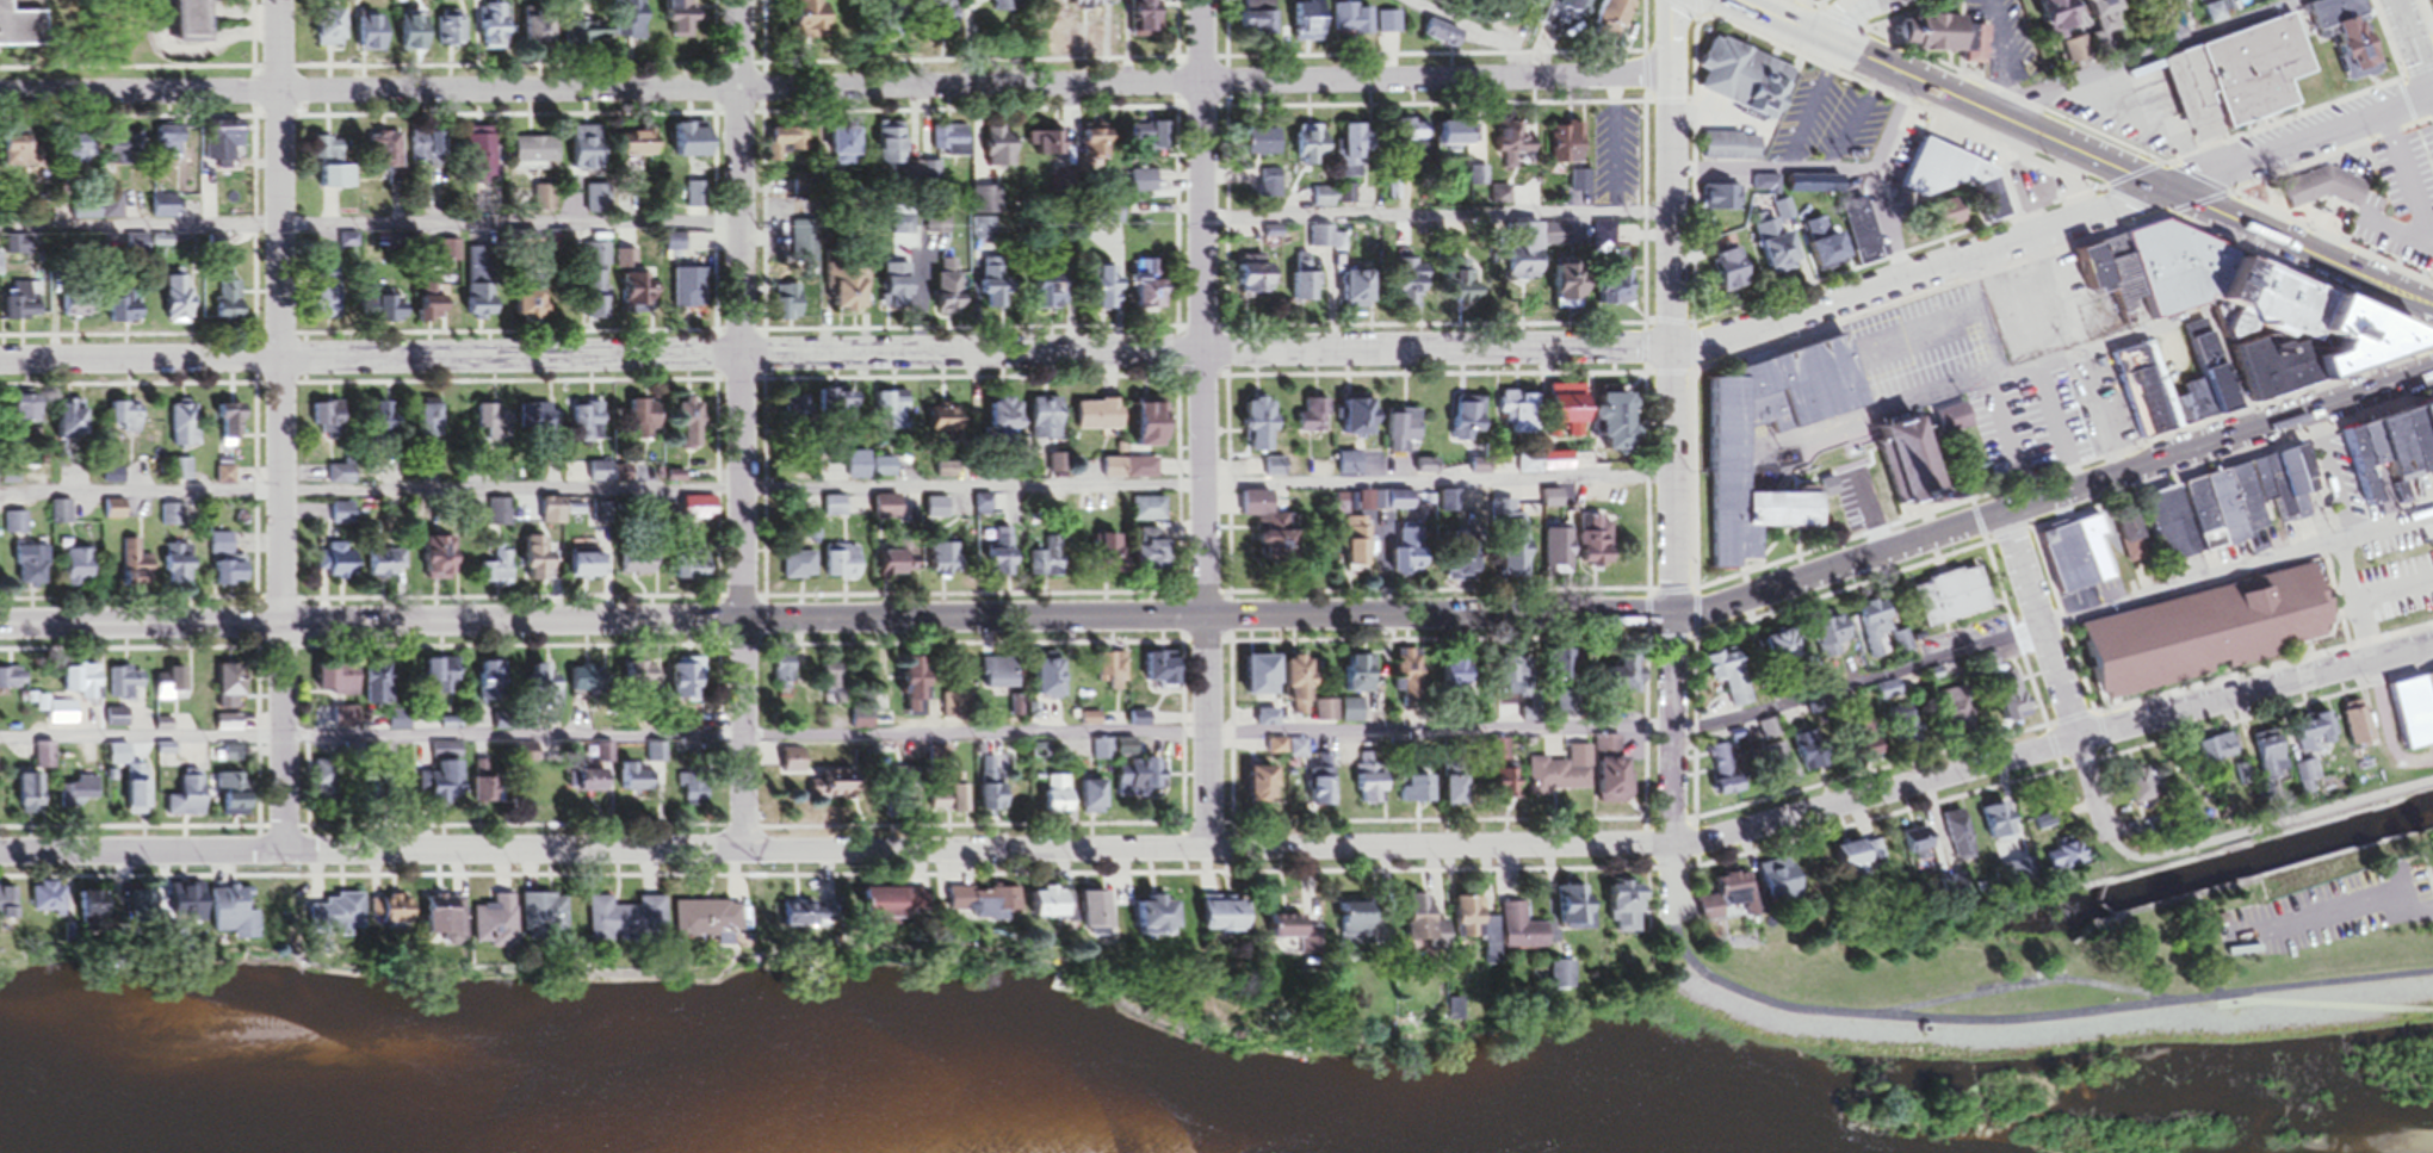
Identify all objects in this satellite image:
building: (2284, 0)
building: (1097, 2)
building: (1580, 6)
building: (1011, 7)
road: (1838, 17)
building: (2215, 17)
building: (1620, 18)
building: (1150, 19)
building: (1256, 19)
building: (683, 20)
building: (816, 20)
building: (198, 23)
building: (1312, 23)
building: (1354, 23)
building: (1389, 26)
building: (620, 27)
building: (23, 30)
building: (332, 31)
building: (497, 31)
building: (541, 31)
building: (454, 32)
road: (1473, 32)
building: (2087, 32)
building: (417, 35)
building: (374, 36)
building: (1444, 37)
building: (1951, 41)
building: (2352, 41)
road: (2413, 48)
road: (2147, 55)
building: (2243, 79)
building: (1746, 83)
road: (835, 87)
road: (2432, 98)
parking lot: (2136, 107)
parking lot: (1828, 120)
road: (2137, 125)
road: (1890, 128)
building: (1414, 137)
building: (1460, 137)
building: (1151, 141)
building: (694, 144)
road: (1616, 144)
building: (228, 145)
building: (949, 145)
building: (172, 147)
building: (1050, 147)
building: (1096, 147)
building: (1264, 147)
building: (1515, 147)
building: (1312, 149)
building: (1361, 149)
building: (428, 150)
building: (844, 150)
building: (1568, 150)
parking lot: (1617, 151)
building: (896, 153)
building: (1001, 153)
building: (1734, 153)
building: (80, 155)
building: (124, 155)
building: (388, 155)
building: (537, 155)
building: (589, 155)
building: (25, 156)
road: (2085, 156)
building: (483, 160)
building: (637, 161)
building: (334, 169)
road: (1770, 174)
road: (2408, 176)
building: (1962, 182)
building: (1144, 186)
building: (1580, 186)
building: (1766, 188)
building: (2324, 193)
parking lot: (2402, 196)
building: (695, 199)
building: (1723, 203)
building: (599, 205)
building: (116, 211)
building: (167, 212)
road: (1436, 221)
road: (1887, 228)
road: (370, 233)
road: (2396, 235)
building: (1604, 243)
building: (1779, 246)
building: (805, 247)
building: (1868, 247)
building: (1828, 250)
building: (1535, 255)
building: (2191, 273)
building: (1734, 275)
road: (1993, 275)
building: (1460, 280)
building: (1414, 283)
building: (1257, 284)
building: (1306, 284)
building: (596, 286)
building: (849, 289)
building: (633, 290)
building: (996, 290)
building: (1575, 290)
building: (922, 291)
building: (689, 292)
building: (1358, 292)
building: (1053, 296)
building: (1152, 296)
building: (1621, 296)
building: (1109, 297)
building: (179, 303)
building: (433, 303)
building: (230, 304)
building: (329, 304)
building: (483, 305)
building: (2299, 305)
building: (23, 306)
building: (790, 306)
building: (81, 309)
building: (129, 311)
building: (386, 311)
building: (535, 311)
road: (1961, 317)
building: (2372, 342)
parking lot: (1931, 343)
road: (1237, 351)
road: (2074, 357)
road: (2002, 378)
building: (898, 415)
building: (1570, 416)
building: (1518, 417)
building: (1360, 419)
building: (2431, 419)
building: (27, 420)
building: (126, 421)
building: (1100, 421)
building: (541, 422)
building: (1313, 422)
parking lot: (2033, 422)
building: (329, 423)
building: (1468, 423)
building: (1955, 423)
road: (281, 424)
building: (431, 424)
building: (646, 424)
road: (741, 424)
building: (1047, 424)
road: (1203, 424)
building: (946, 426)
building: (1005, 426)
building: (75, 427)
building: (1618, 427)
building: (586, 429)
building: (1156, 429)
building: (185, 430)
building: (233, 430)
building: (691, 430)
building: (1262, 430)
building: (1401, 435)
building: (499, 442)
building: (1732, 455)
road: (1671, 463)
building: (2389, 463)
building: (1918, 464)
building: (1055, 467)
building: (869, 472)
building: (1131, 472)
building: (181, 475)
building: (608, 478)
building: (227, 479)
building: (342, 479)
building: (113, 481)
building: (1862, 483)
road: (835, 491)
building: (1401, 506)
building: (985, 509)
building: (2233, 509)
building: (835, 510)
building: (555, 512)
building: (889, 512)
building: (937, 513)
building: (116, 514)
building: (700, 514)
building: (1150, 514)
building: (61, 516)
building: (499, 517)
building: (173, 520)
building: (16, 528)
building: (1273, 529)
building: (1596, 545)
building: (1356, 546)
building: (222, 548)
building: (1517, 548)
building: (1398, 553)
building: (2099, 554)
building: (1559, 556)
building: (1156, 557)
building: (1003, 558)
building: (1113, 558)
building: (1047, 563)
building: (343, 564)
building: (540, 565)
building: (946, 565)
building: (843, 566)
building: (386, 568)
building: (442, 568)
building: (638, 568)
building: (81, 569)
building: (899, 569)
building: (32, 570)
building: (135, 570)
building: (180, 570)
building: (589, 570)
building: (800, 570)
building: (1463, 570)
building: (694, 571)
building: (497, 574)
parking lot: (2381, 574)
building: (235, 578)
road: (2394, 596)
building: (1955, 601)
road: (2353, 607)
road: (1234, 614)
road: (2041, 627)
building: (2236, 627)
building: (1878, 633)
building: (1833, 640)
building: (1782, 652)
building: (1162, 674)
building: (2116, 674)
building: (784, 676)
building: (1112, 676)
building: (1361, 678)
building: (999, 680)
building: (1265, 680)
building: (444, 681)
building: (613, 681)
building: (1410, 681)
building: (17, 682)
building: (1459, 682)
building: (1050, 683)
building: (1727, 683)
building: (340, 684)
building: (689, 684)
building: (1610, 686)
building: (0, 687)
building: (89, 687)
building: (125, 687)
building: (168, 688)
building: (231, 689)
building: (495, 689)
building: (545, 690)
building: (1301, 690)
road: (2254, 690)
building: (912, 693)
building: (390, 695)
building: (1888, 695)
building: (1519, 698)
building: (2013, 700)
building: (955, 712)
building: (1957, 713)
building: (1326, 715)
building: (1352, 715)
building: (62, 717)
building: (2414, 719)
building: (862, 724)
building: (1901, 724)
building: (1138, 725)
building: (2358, 727)
building: (2320, 730)
building: (1770, 734)
road: (1231, 739)
building: (1812, 751)
building: (2220, 754)
building: (445, 756)
building: (1104, 757)
building: (2273, 761)
building: (1781, 768)
building: (1727, 775)
building: (1561, 777)
building: (1304, 779)
building: (637, 782)
building: (823, 782)
building: (1616, 783)
building: (446, 786)
building: (488, 786)
building: (593, 786)
building: (138, 787)
building: (326, 788)
building: (1506, 788)
building: (697, 791)
building: (1263, 792)
road: (2094, 792)
building: (2144, 792)
building: (1374, 793)
building: (993, 794)
building: (30, 795)
building: (1420, 795)
building: (1460, 795)
building: (79, 796)
building: (233, 799)
building: (1059, 800)
building: (190, 801)
building: (1092, 804)
building: (1999, 827)
road: (2268, 830)
building: (1960, 841)
road: (1045, 849)
building: (1919, 849)
building: (2076, 857)
building: (1862, 858)
building: (1779, 882)
building: (1725, 900)
building: (48, 903)
road: (2336, 904)
building: (111, 905)
building: (143, 906)
building: (896, 906)
building: (188, 907)
building: (983, 907)
parking lot: (2333, 909)
building: (8, 910)
building: (1050, 910)
building: (1574, 912)
building: (1623, 913)
building: (231, 915)
building: (392, 915)
building: (91, 916)
building: (338, 917)
building: (1094, 918)
building: (810, 919)
building: (1221, 919)
building: (1465, 919)
building: (543, 920)
building: (1151, 920)
building: (1416, 923)
building: (708, 924)
building: (444, 925)
building: (495, 925)
building: (625, 925)
building: (1351, 925)
building: (1286, 932)
building: (1518, 935)
building: (1560, 980)
road: (2020, 992)
park: (2072, 996)
road: (2031, 1024)

